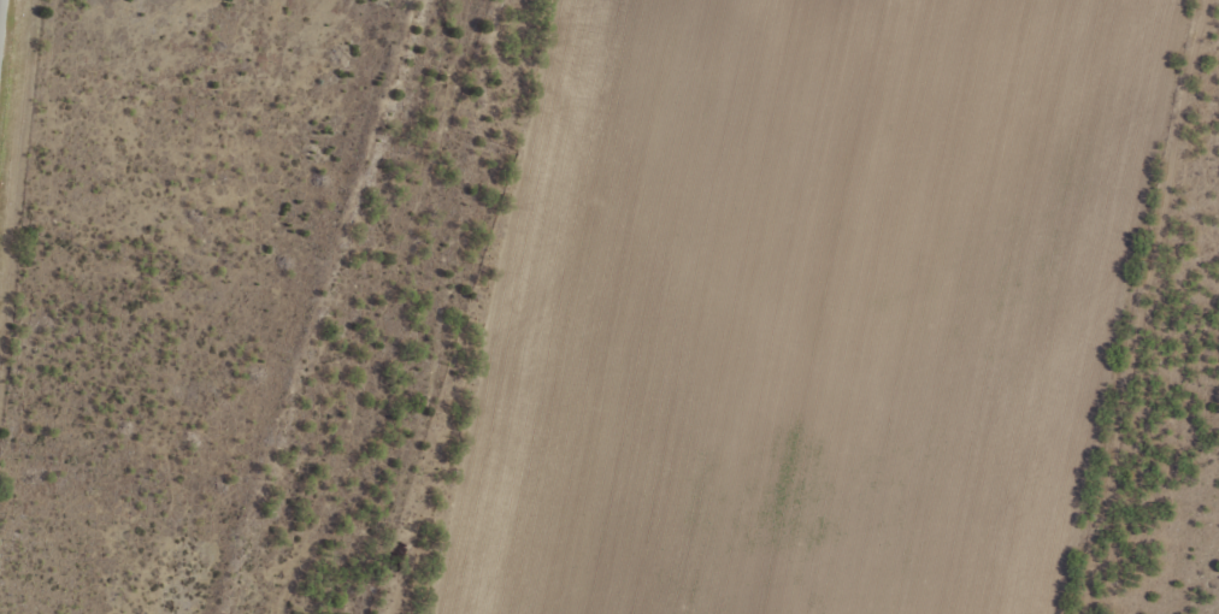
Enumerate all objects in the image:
railway: (334, 307)

